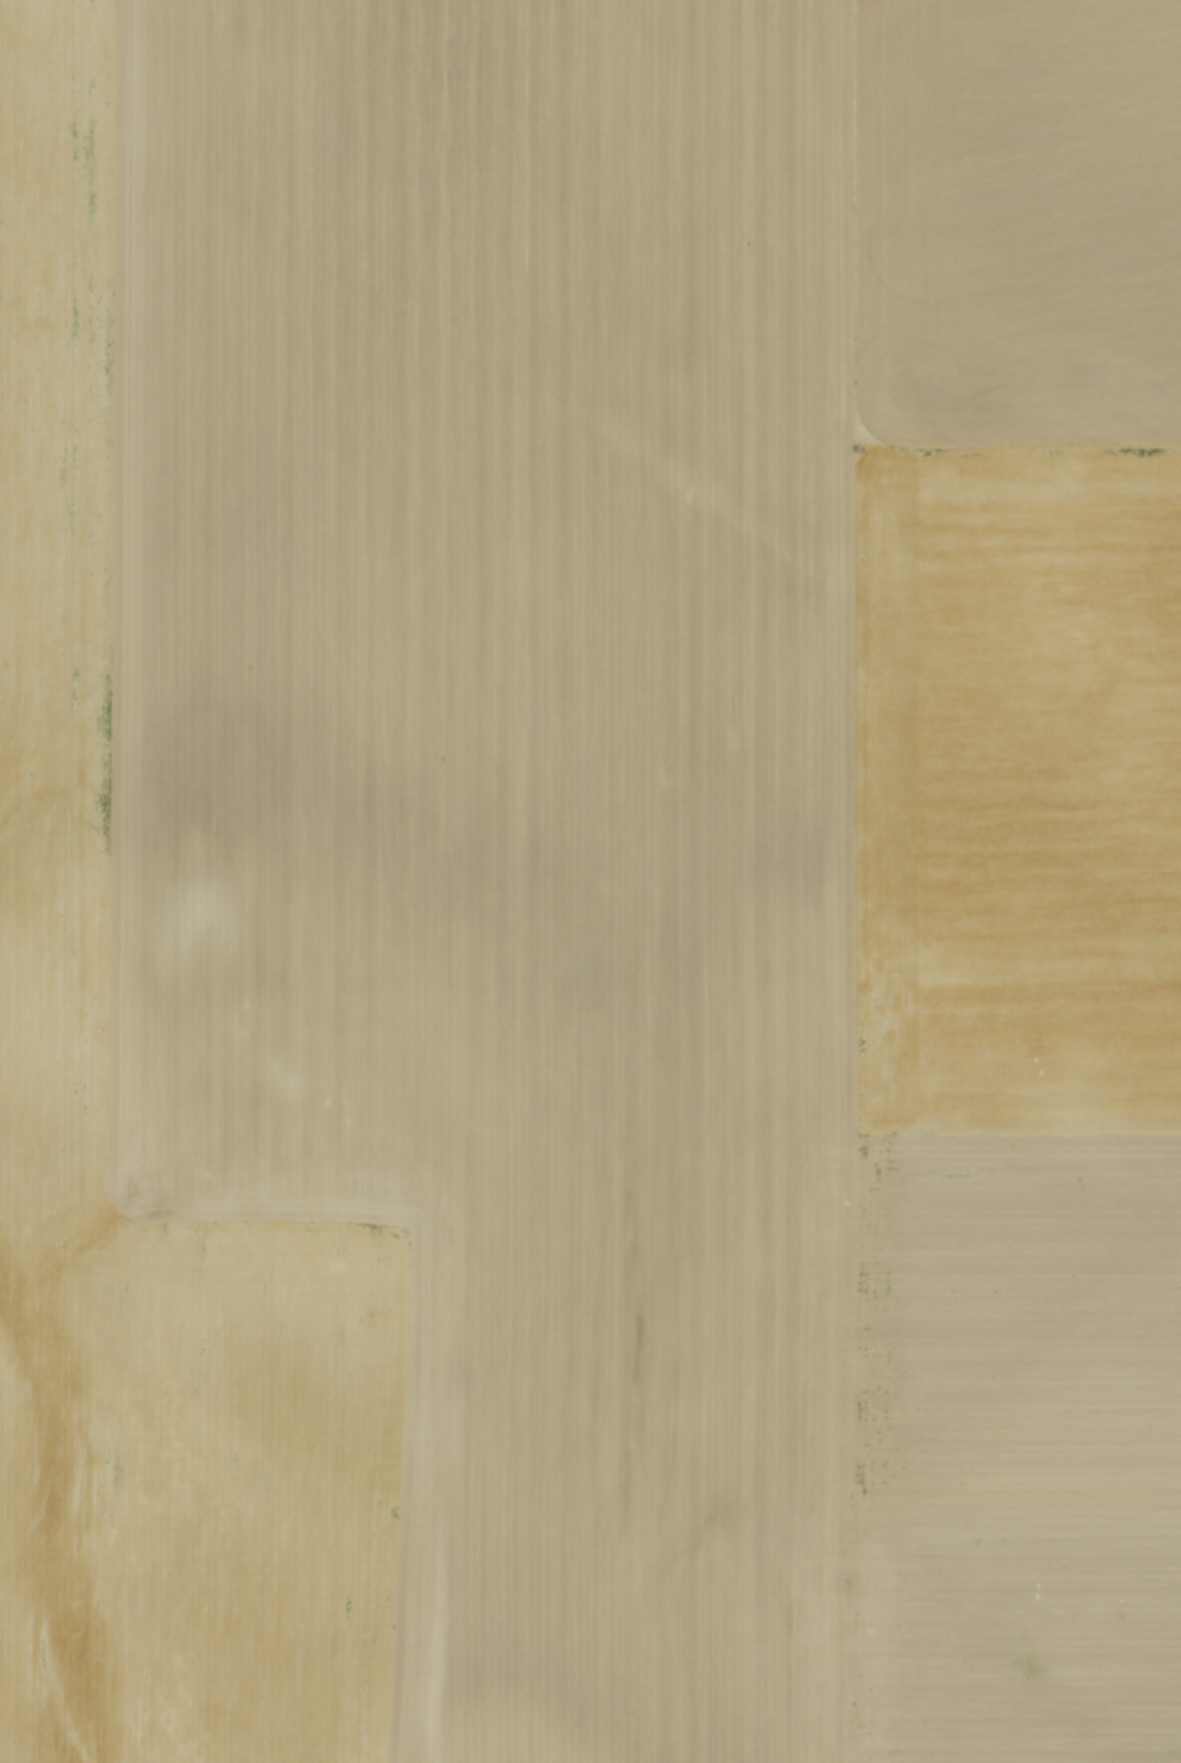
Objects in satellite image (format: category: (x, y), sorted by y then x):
crop: (590, 881)

